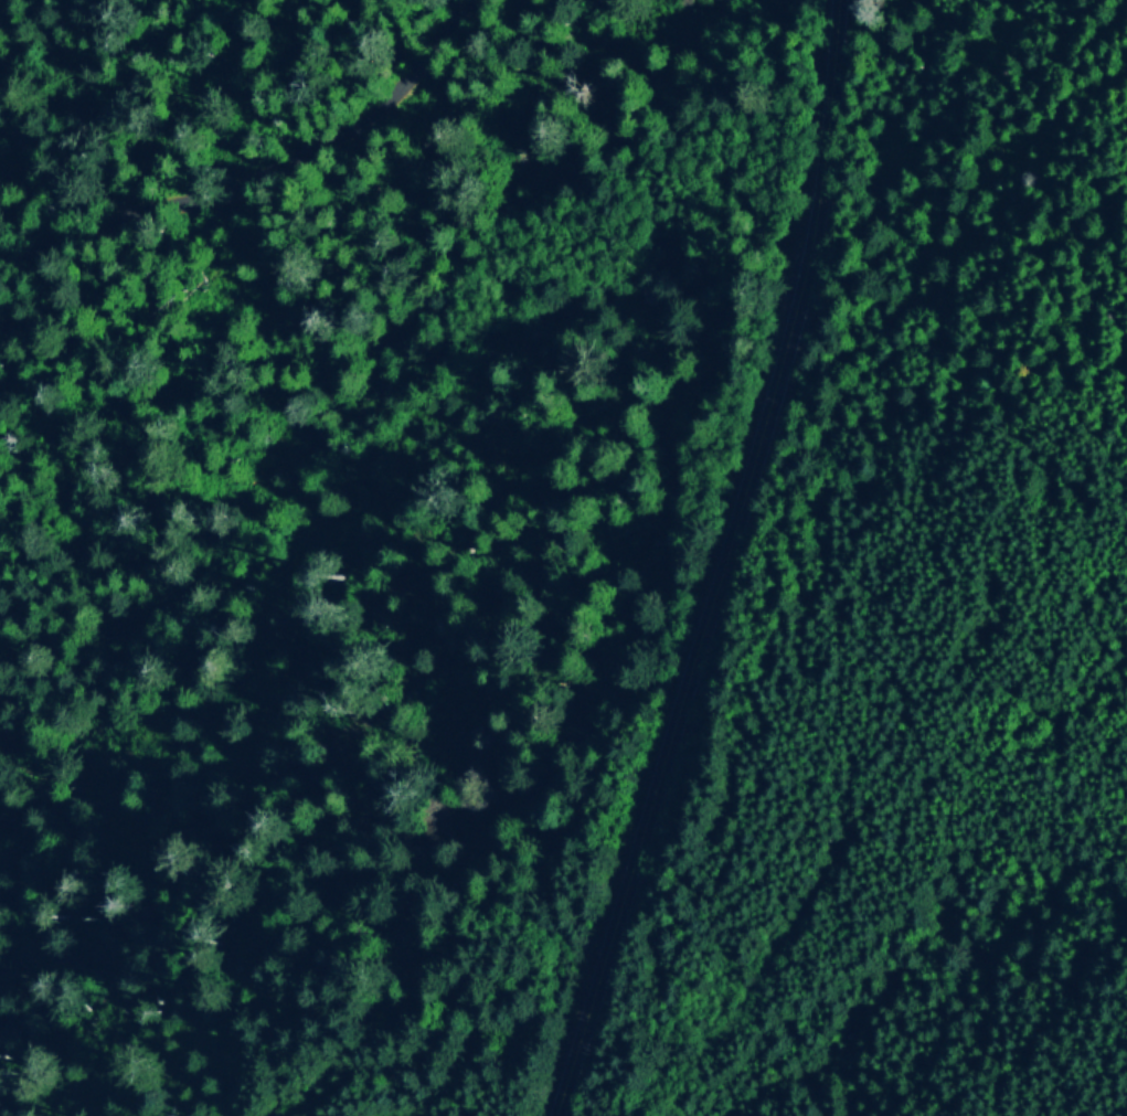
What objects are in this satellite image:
road: (265, 171)
road: (717, 563)
road: (177, 721)
road: (380, 1088)

